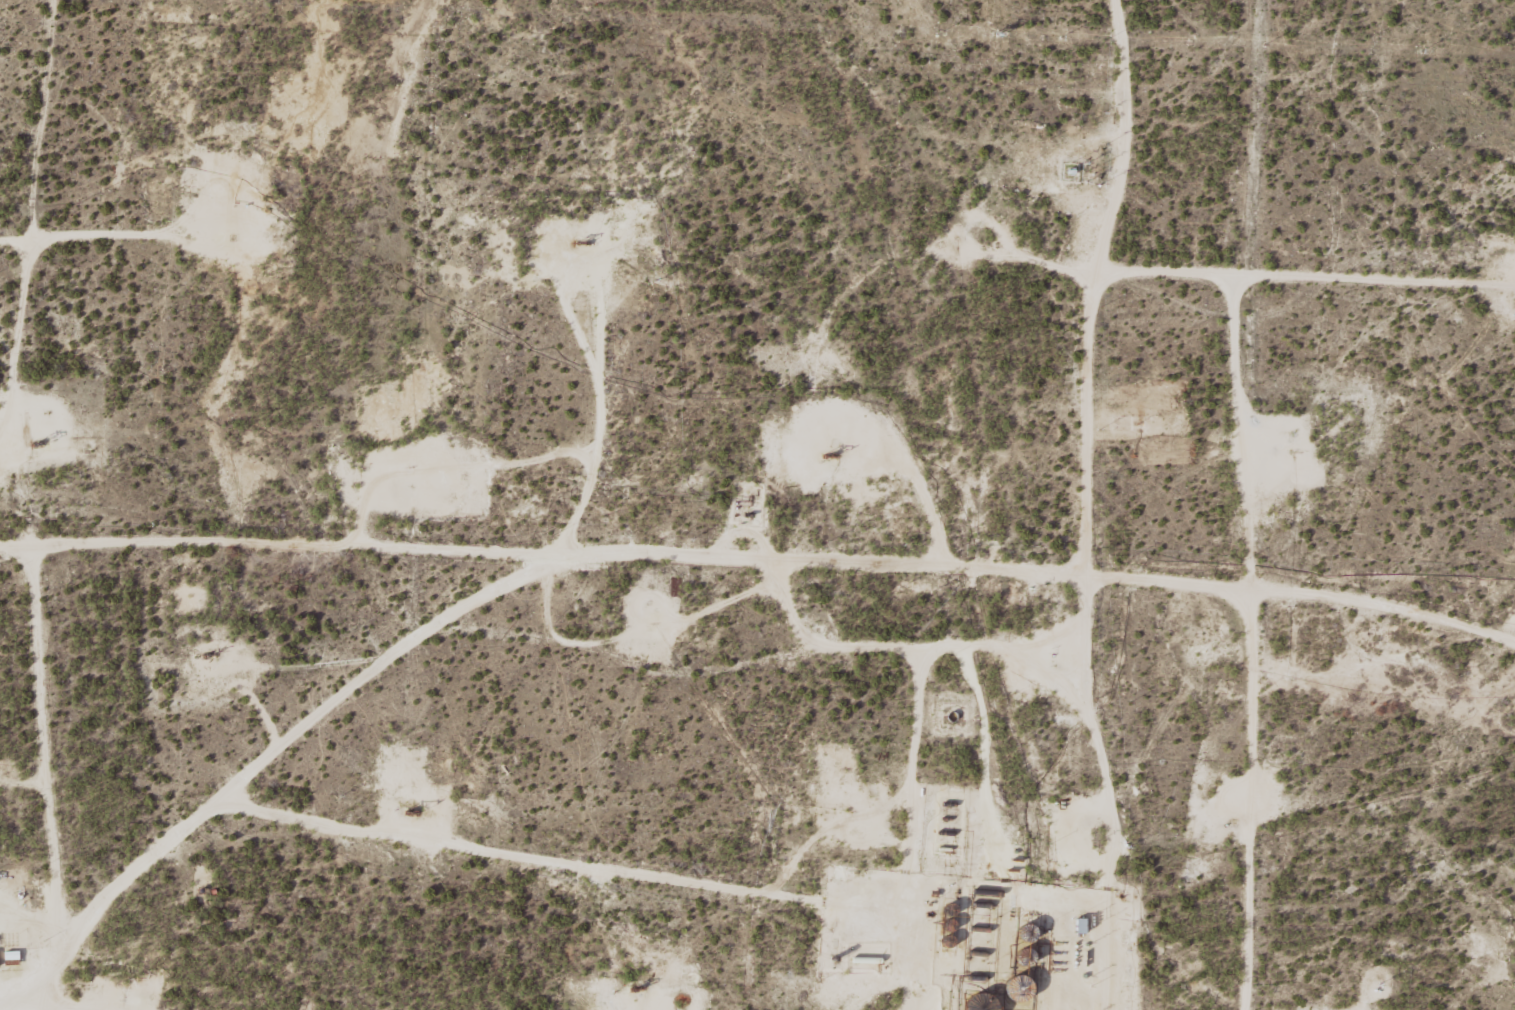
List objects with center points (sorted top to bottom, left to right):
road: (14, 460)
road: (243, 563)
road: (693, 578)
road: (692, 802)
road: (1128, 913)
road: (1111, 983)
building: (1022, 994)

